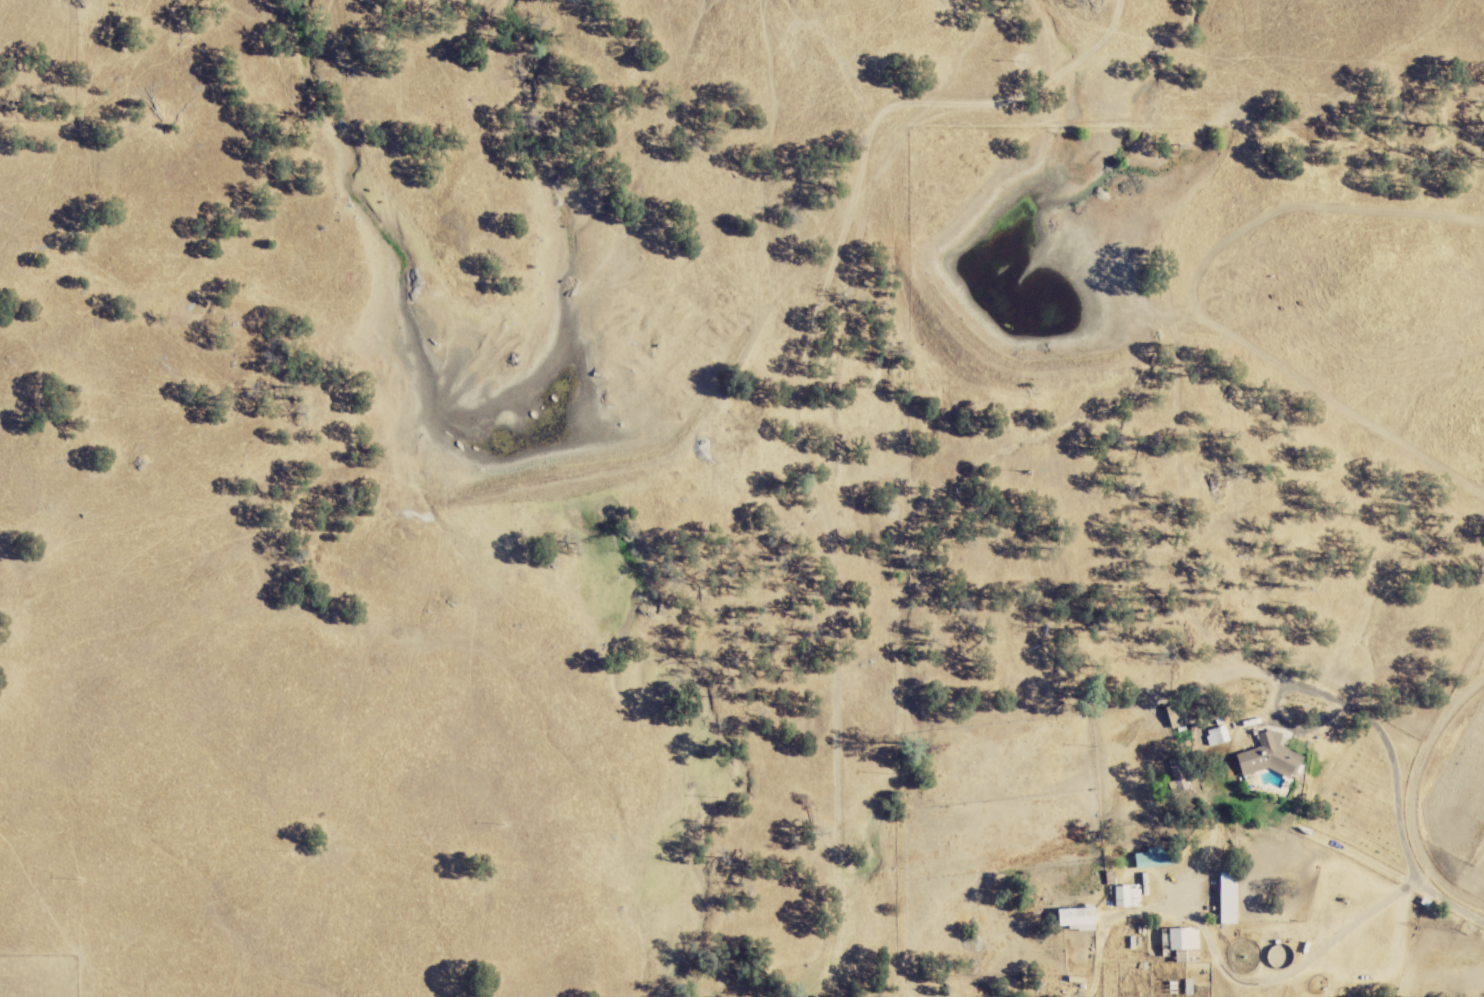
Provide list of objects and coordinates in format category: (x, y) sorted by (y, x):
road: (1462, 557)
building: (1220, 736)
building: (1270, 758)
road: (1394, 778)
building: (1155, 859)
building: (1128, 898)
road: (1449, 899)
building: (1076, 920)
road: (1351, 926)
building: (1181, 941)
road: (1269, 976)

